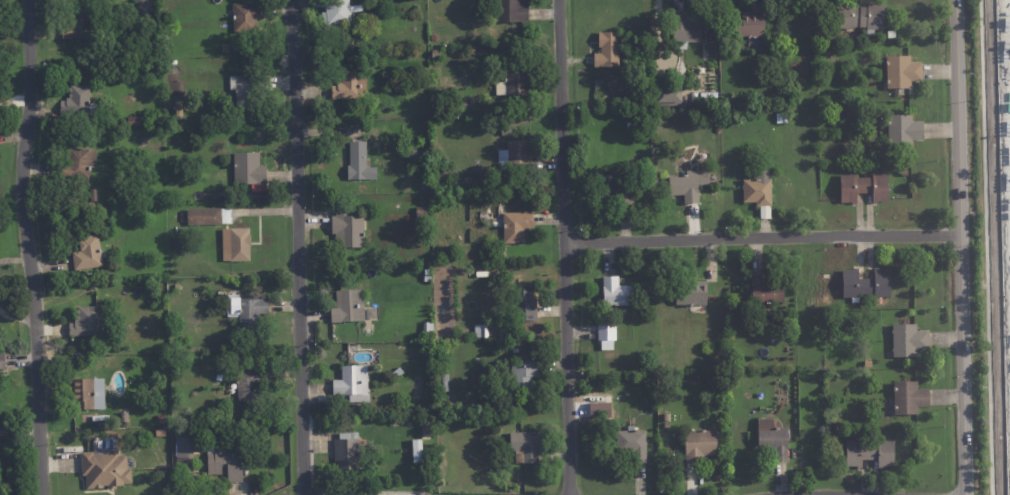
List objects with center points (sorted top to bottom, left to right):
building: (338, 12)
building: (511, 12)
building: (860, 15)
building: (245, 16)
building: (75, 25)
building: (751, 27)
building: (684, 30)
building: (224, 48)
building: (607, 49)
building: (653, 49)
building: (435, 53)
building: (205, 67)
building: (901, 71)
building: (515, 83)
building: (245, 89)
building: (349, 89)
building: (639, 89)
building: (669, 95)
building: (77, 103)
building: (782, 118)
building: (134, 121)
building: (630, 126)
building: (506, 131)
building: (904, 131)
building: (413, 155)
building: (513, 155)
building: (77, 163)
building: (359, 164)
building: (249, 170)
building: (689, 184)
building: (864, 187)
building: (759, 192)
building: (618, 193)
building: (221, 194)
building: (93, 195)
building: (421, 213)
building: (208, 216)
building: (516, 227)
building: (346, 230)
road: (765, 231)
building: (177, 244)
building: (236, 244)
road: (30, 247)
road: (300, 247)
road: (566, 247)
road: (964, 247)
road: (987, 247)
building: (89, 253)
building: (427, 273)
building: (428, 280)
building: (866, 283)
building: (177, 287)
building: (767, 291)
building: (616, 292)
building: (692, 293)
building: (153, 299)
building: (711, 299)
building: (524, 306)
building: (346, 307)
building: (247, 310)
building: (733, 313)
building: (87, 324)
building: (428, 327)
building: (481, 331)
building: (237, 332)
building: (607, 332)
building: (908, 339)
building: (845, 346)
building: (2, 361)
building: (397, 373)
building: (523, 376)
building: (444, 382)
building: (252, 383)
building: (354, 384)
building: (87, 394)
building: (908, 396)
building: (598, 409)
building: (124, 417)
building: (666, 417)
building: (95, 418)
building: (161, 419)
building: (834, 423)
building: (667, 426)
building: (716, 427)
building: (426, 430)
building: (160, 434)
building: (773, 439)
building: (633, 443)
building: (700, 445)
building: (525, 446)
building: (184, 451)
building: (417, 452)
building: (871, 453)
building: (346, 454)
building: (768, 454)
building: (830, 459)
building: (226, 461)
building: (104, 470)
road: (847, 488)

